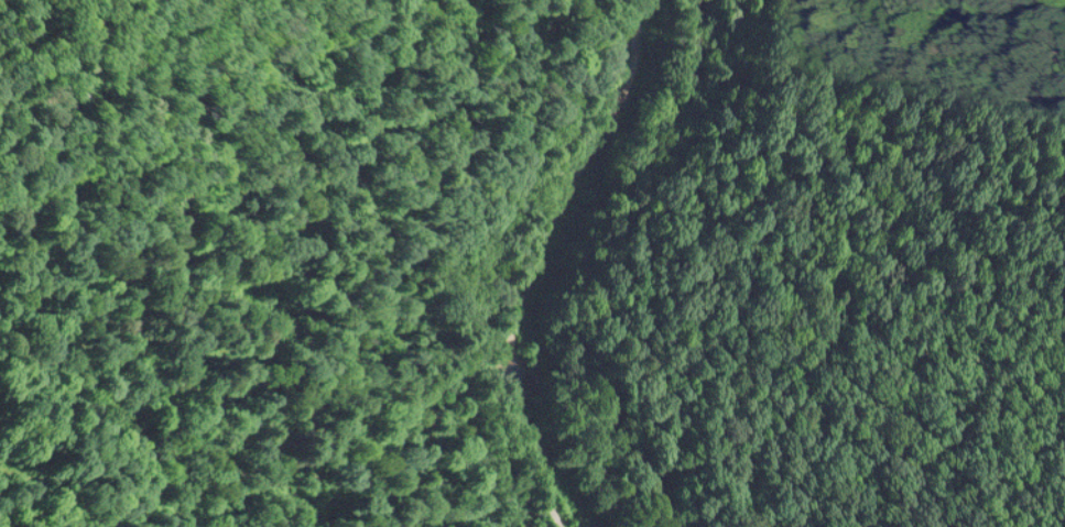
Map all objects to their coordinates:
road: (486, 268)

